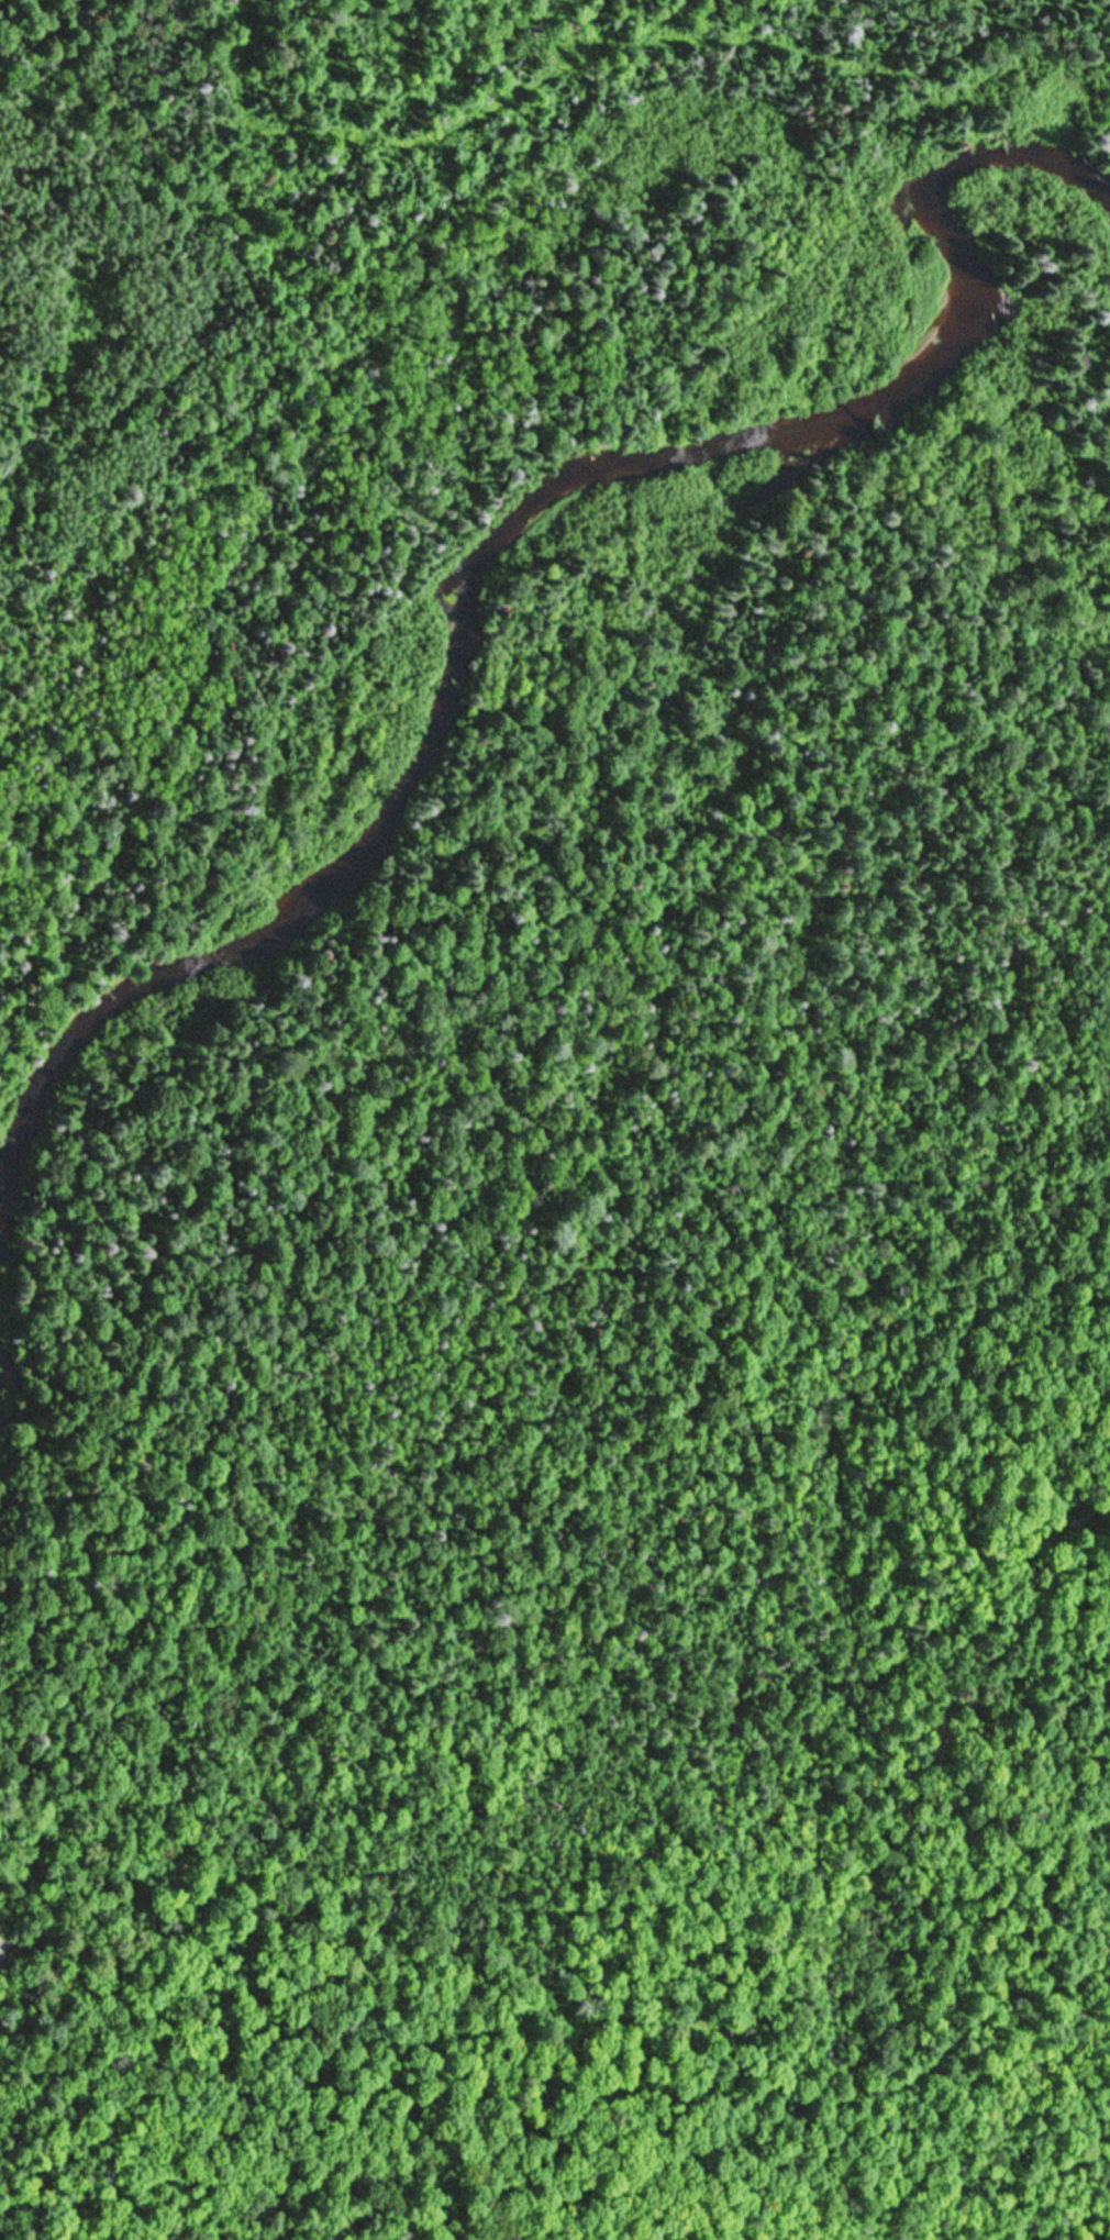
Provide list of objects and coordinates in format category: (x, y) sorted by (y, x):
river: (518, 562)

